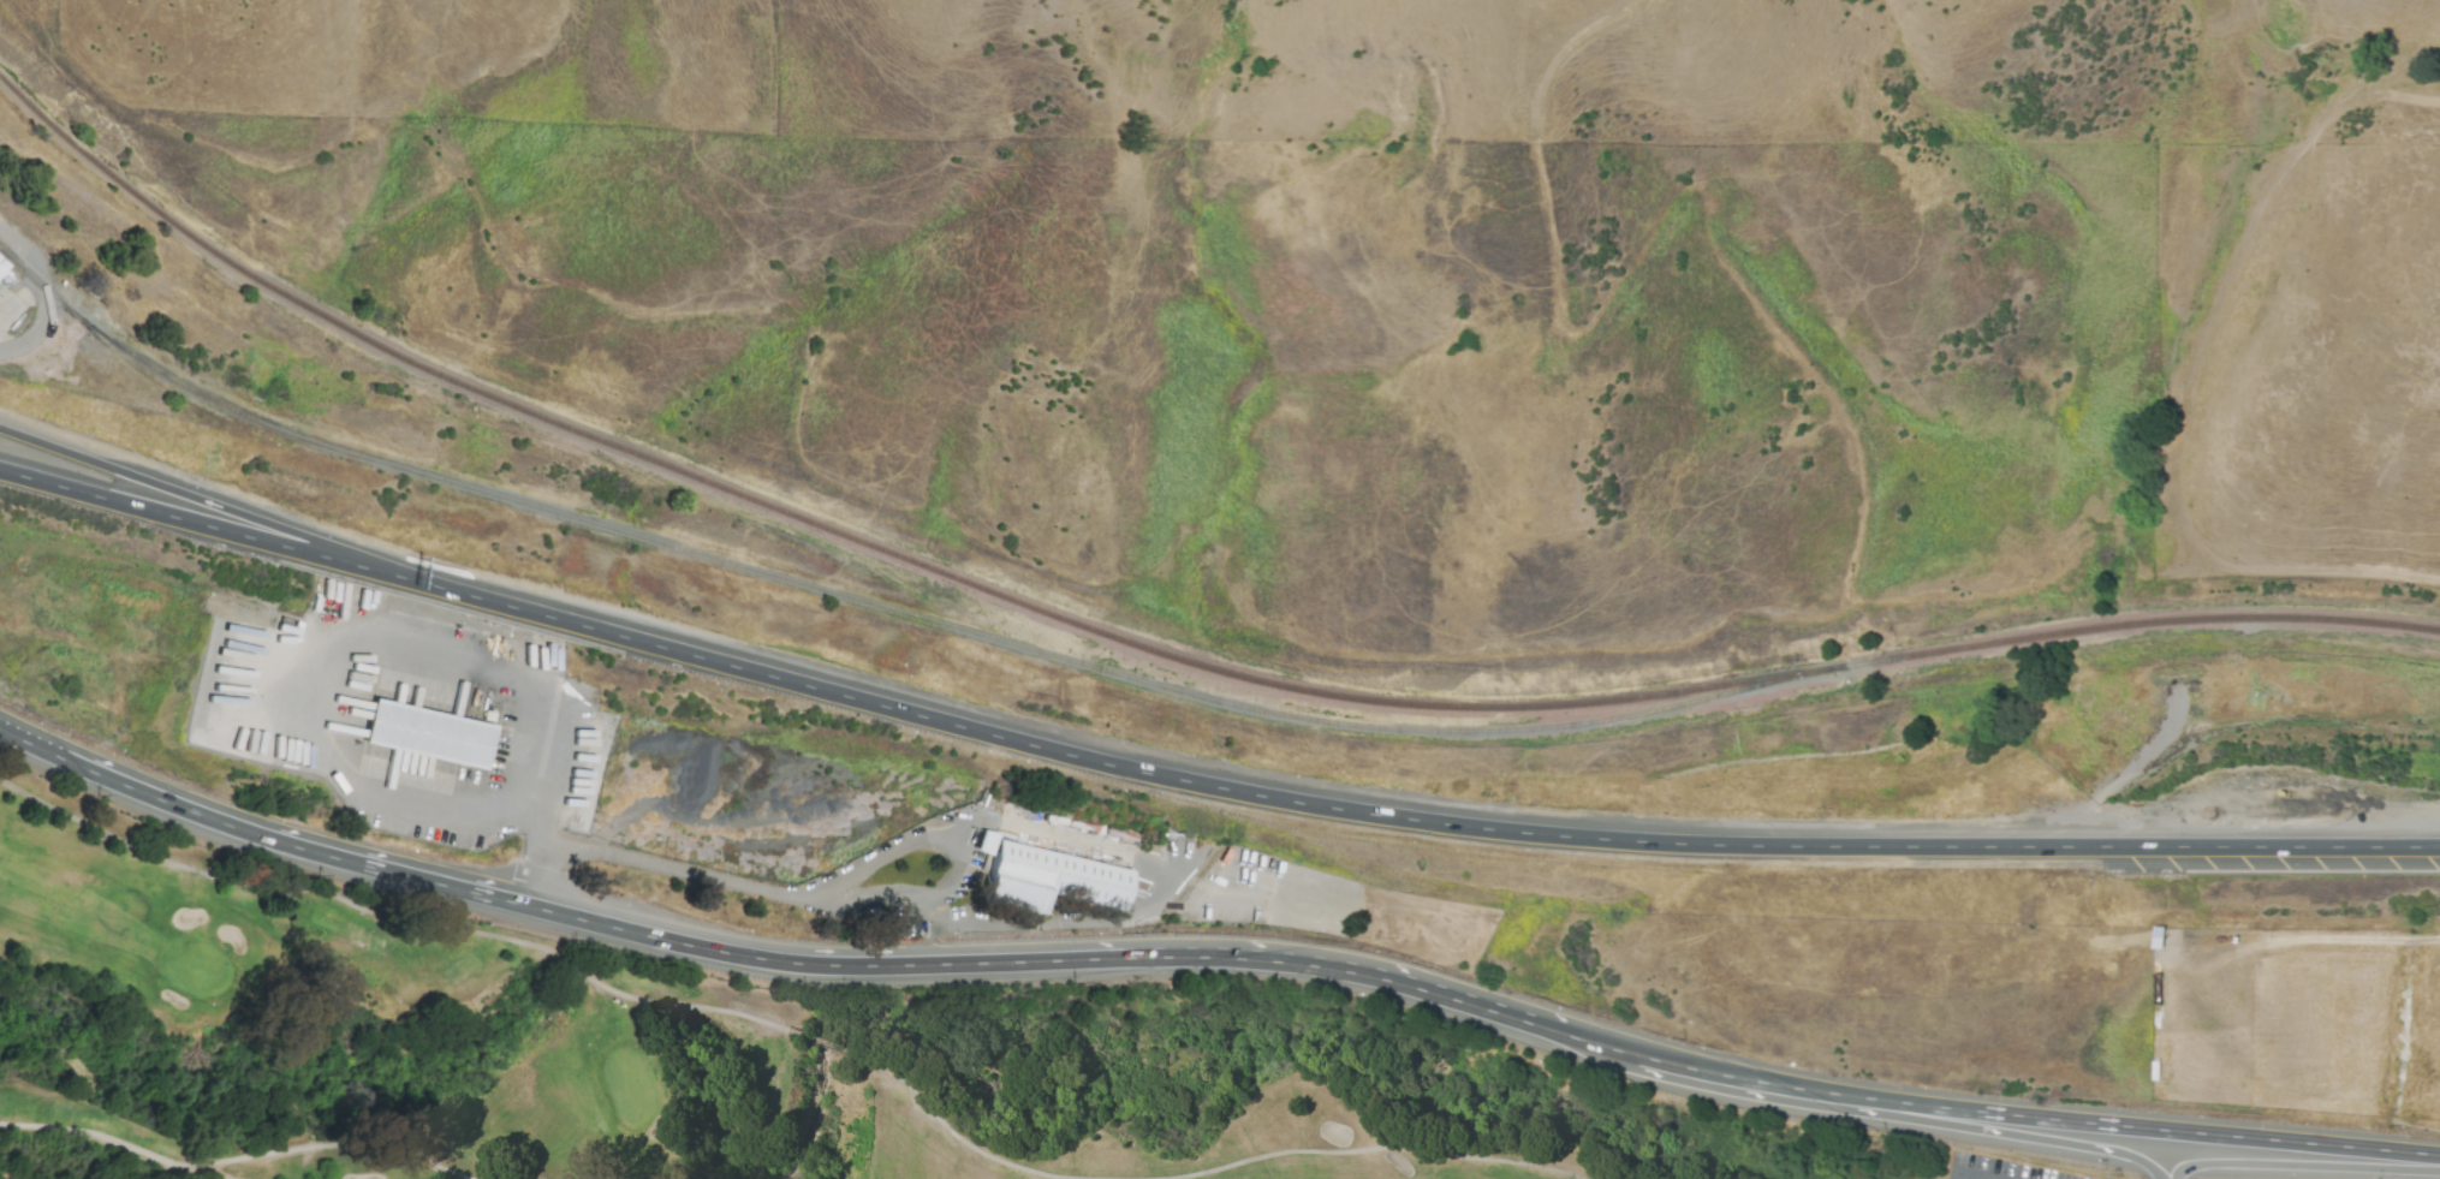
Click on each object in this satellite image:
road: (1561, 55)
road: (1713, 218)
building: (0, 266)
road: (2232, 285)
road: (42, 294)
road: (218, 506)
road: (216, 529)
railway: (869, 601)
road: (353, 632)
railway: (1150, 650)
building: (427, 734)
building: (412, 763)
road: (1257, 794)
road: (958, 830)
road: (256, 835)
building: (983, 841)
road: (917, 846)
road: (2273, 847)
road: (532, 877)
building: (1048, 879)
road: (727, 881)
road: (267, 886)
road: (1143, 913)
road: (713, 951)
road: (1245, 959)
road: (566, 964)
road: (609, 992)
road: (661, 1006)
road: (745, 1019)
road: (819, 1042)
park: (779, 1046)
road: (1703, 1071)
road: (939, 1123)
road: (2136, 1127)
road: (1999, 1132)
road: (1383, 1149)
road: (227, 1162)
road: (2304, 1166)
park: (2297, 1173)
road: (1963, 1175)

